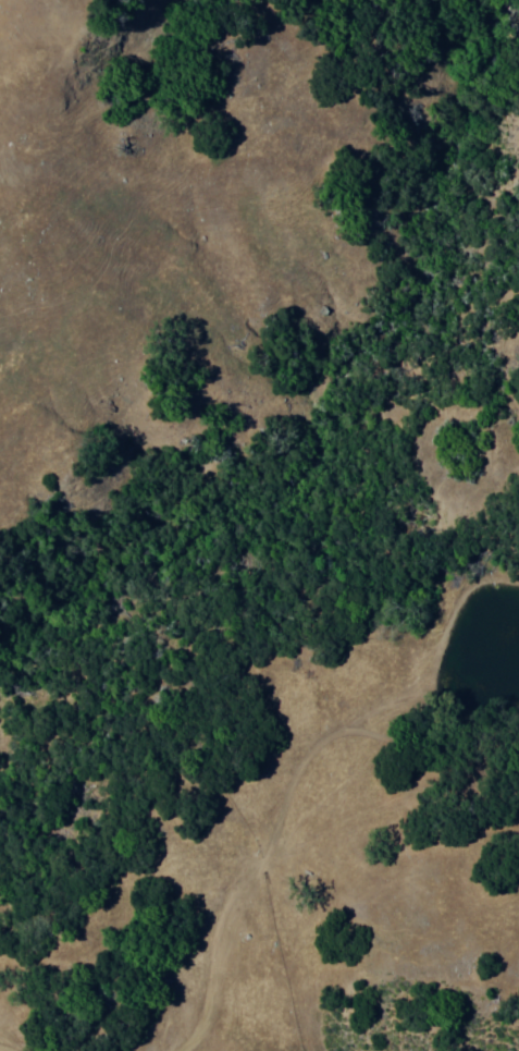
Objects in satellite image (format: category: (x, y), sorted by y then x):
road: (430, 754)
road: (274, 850)

